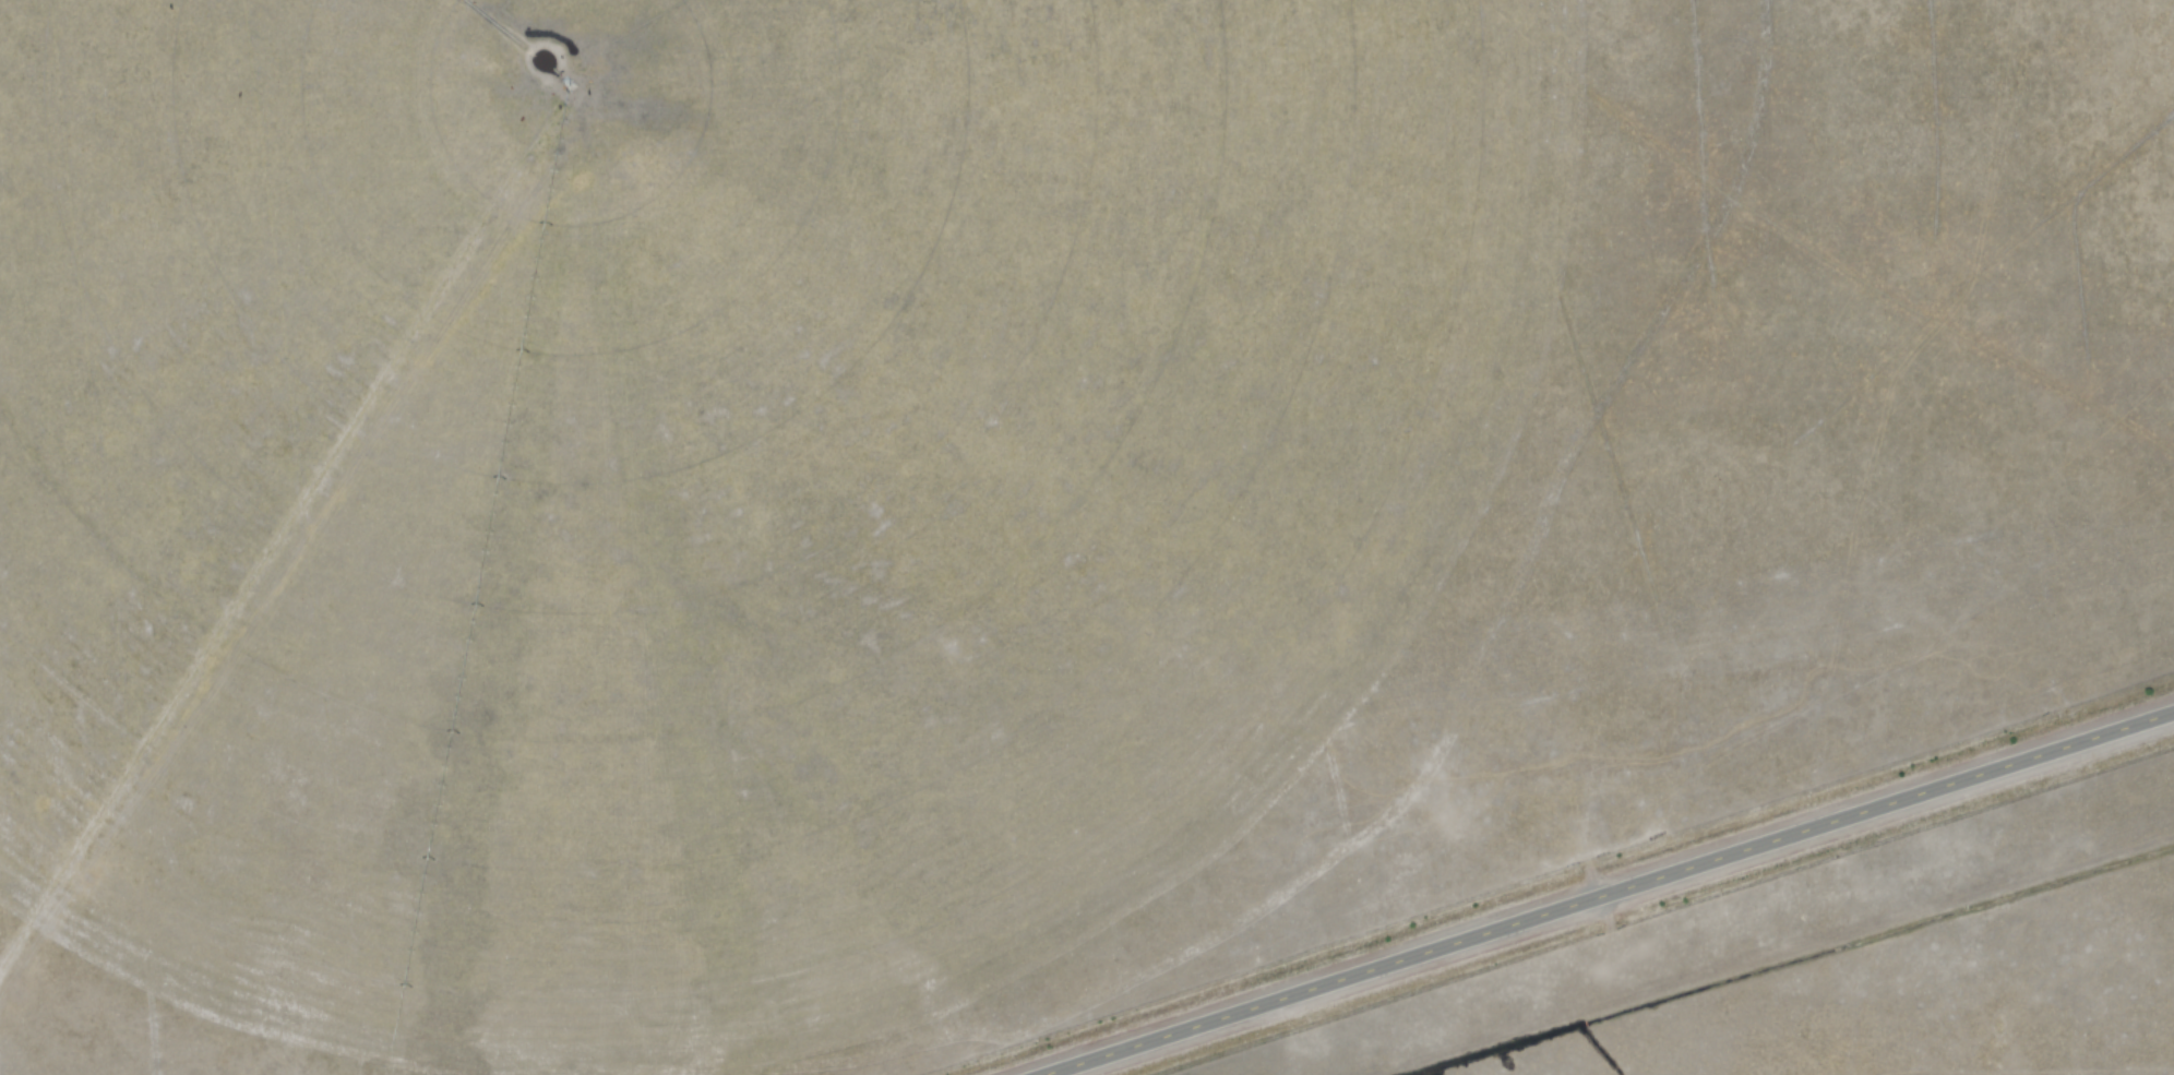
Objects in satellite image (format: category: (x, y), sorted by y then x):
crop: (728, 462)
road: (1606, 892)

